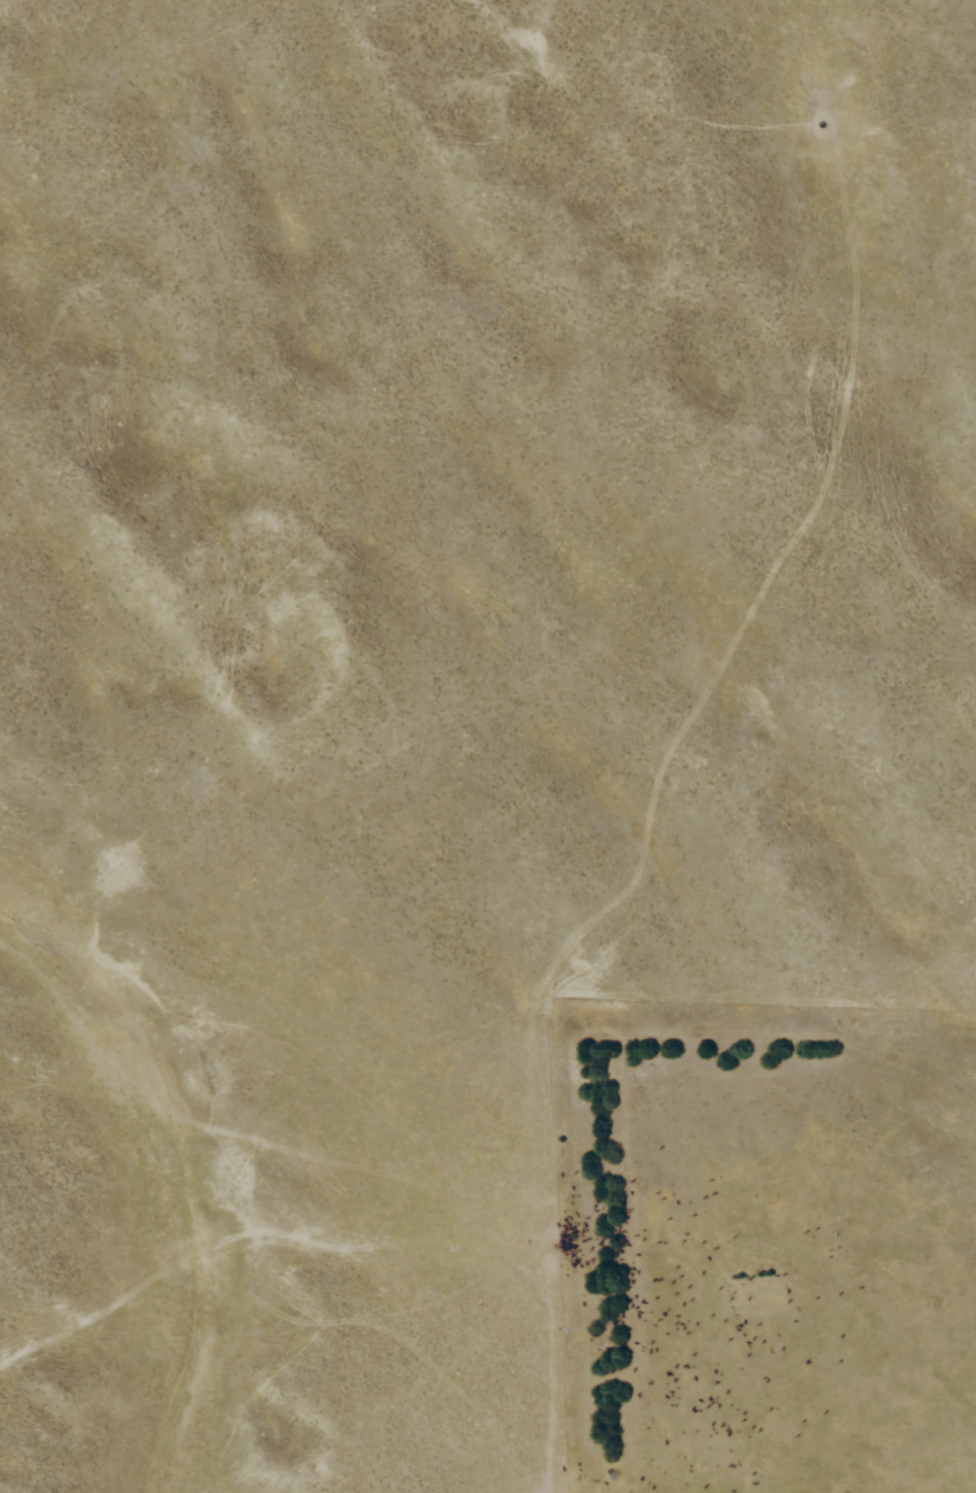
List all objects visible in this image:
building: (758, 1289)

